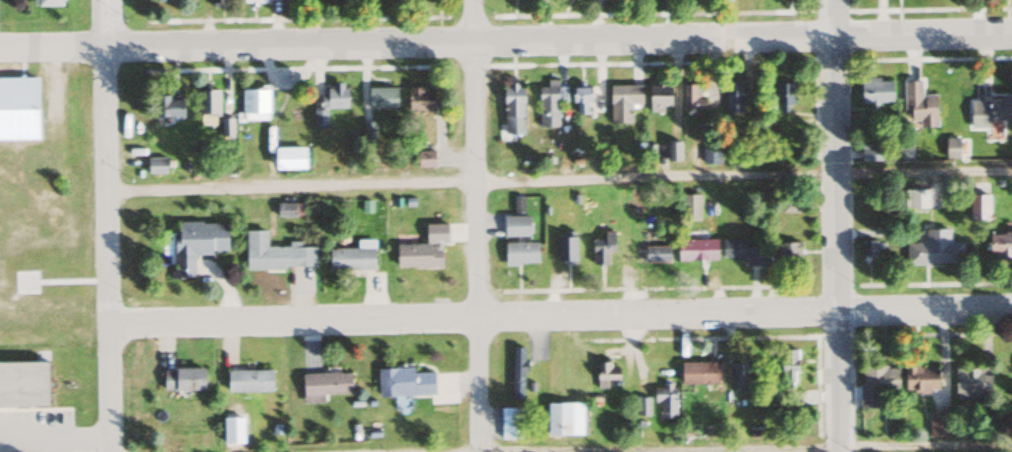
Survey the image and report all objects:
building: (260, 0)
building: (216, 1)
building: (48, 3)
road: (505, 38)
building: (875, 91)
building: (784, 93)
building: (333, 97)
building: (381, 98)
building: (419, 98)
building: (658, 98)
building: (733, 98)
building: (692, 100)
building: (581, 101)
building: (622, 102)
building: (208, 103)
building: (549, 104)
building: (918, 104)
building: (168, 105)
building: (254, 105)
building: (17, 109)
building: (512, 109)
building: (988, 111)
building: (319, 119)
building: (368, 131)
building: (951, 148)
building: (672, 151)
building: (869, 153)
building: (288, 158)
building: (424, 158)
building: (155, 165)
road: (558, 178)
building: (915, 198)
building: (518, 202)
building: (689, 206)
building: (978, 207)
building: (286, 209)
building: (515, 225)
road: (106, 226)
road: (476, 226)
road: (836, 226)
building: (195, 244)
building: (999, 244)
building: (602, 247)
building: (423, 248)
building: (565, 248)
building: (869, 248)
building: (696, 249)
building: (934, 249)
building: (741, 251)
building: (788, 251)
building: (275, 253)
building: (520, 253)
building: (656, 253)
building: (352, 256)
road: (559, 314)
building: (787, 367)
building: (604, 373)
building: (698, 373)
building: (517, 374)
building: (738, 375)
building: (182, 378)
building: (920, 378)
building: (248, 380)
building: (404, 382)
building: (876, 384)
building: (970, 384)
building: (323, 385)
building: (22, 386)
building: (665, 401)
building: (642, 407)
road: (34, 410)
building: (563, 419)
building: (509, 423)
building: (938, 424)
building: (231, 429)
parking lot: (35, 431)
road: (55, 443)
road: (776, 448)

